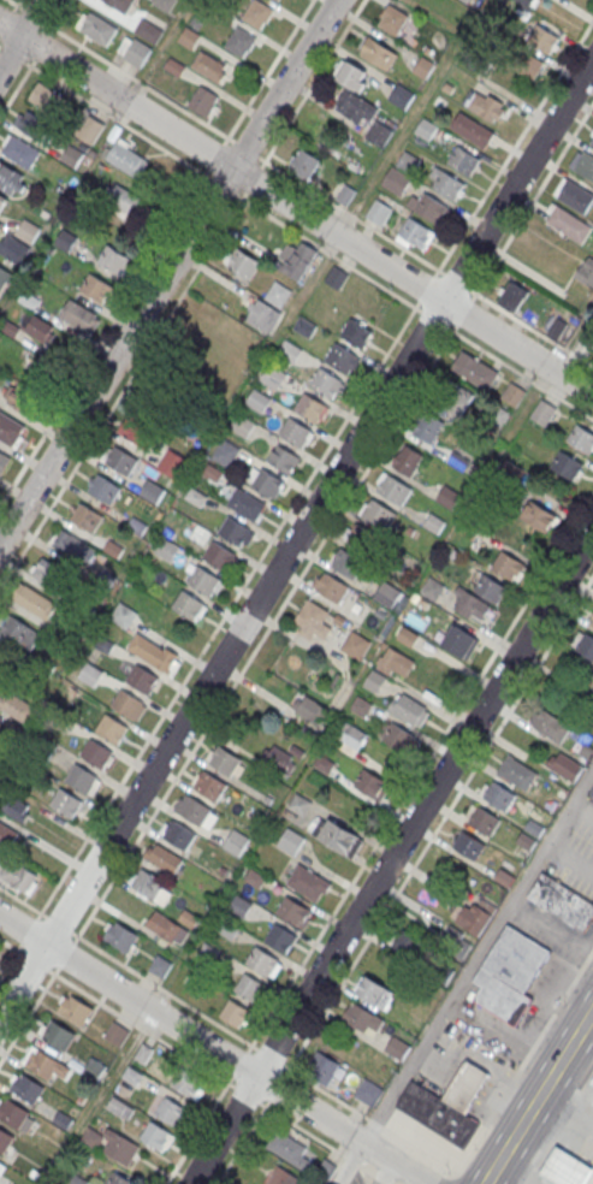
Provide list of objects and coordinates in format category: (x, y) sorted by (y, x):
building: (278, 0)
building: (526, 2)
building: (165, 4)
road: (14, 5)
building: (120, 5)
building: (259, 14)
road: (64, 17)
road: (5, 20)
building: (393, 20)
building: (197, 22)
building: (96, 29)
building: (149, 32)
road: (22, 35)
building: (189, 39)
building: (544, 40)
building: (241, 43)
road: (43, 48)
building: (378, 52)
road: (10, 53)
building: (137, 54)
building: (472, 59)
building: (209, 65)
building: (528, 65)
building: (174, 69)
building: (425, 69)
road: (267, 70)
road: (310, 82)
road: (17, 87)
building: (354, 94)
building: (402, 96)
building: (46, 99)
building: (203, 100)
building: (486, 107)
road: (115, 119)
building: (32, 126)
building: (426, 130)
building: (473, 131)
building: (90, 134)
road: (227, 136)
building: (378, 137)
building: (592, 142)
building: (592, 144)
road: (514, 147)
building: (22, 153)
road: (215, 154)
building: (72, 156)
building: (128, 160)
building: (463, 161)
building: (408, 162)
building: (303, 164)
building: (585, 165)
road: (251, 179)
building: (12, 180)
building: (397, 182)
road: (224, 185)
building: (449, 187)
building: (575, 195)
building: (121, 201)
road: (532, 201)
building: (2, 203)
building: (431, 208)
road: (296, 209)
building: (379, 213)
building: (568, 223)
building: (28, 232)
building: (417, 235)
building: (65, 241)
building: (14, 250)
road: (327, 253)
building: (300, 260)
building: (117, 262)
building: (242, 264)
building: (586, 271)
road: (168, 272)
building: (336, 279)
road: (456, 280)
building: (2, 282)
road: (426, 286)
building: (97, 290)
building: (278, 295)
building: (512, 295)
building: (29, 300)
road: (463, 312)
building: (81, 316)
road: (432, 316)
building: (263, 318)
road: (529, 327)
building: (40, 328)
building: (306, 328)
building: (556, 328)
building: (356, 332)
road: (103, 336)
building: (290, 354)
building: (342, 357)
building: (475, 369)
road: (518, 371)
building: (48, 375)
building: (273, 378)
building: (327, 383)
road: (121, 390)
building: (512, 393)
building: (452, 396)
building: (259, 402)
building: (310, 408)
building: (542, 412)
building: (427, 426)
building: (243, 427)
building: (11, 430)
building: (136, 430)
building: (296, 432)
building: (581, 438)
building: (227, 452)
building: (283, 457)
building: (407, 460)
building: (458, 461)
building: (121, 462)
building: (4, 463)
building: (173, 463)
building: (567, 464)
building: (267, 481)
building: (395, 489)
building: (103, 490)
building: (152, 491)
building: (447, 496)
building: (247, 503)
building: (379, 513)
building: (539, 515)
building: (87, 519)
building: (433, 522)
building: (235, 531)
road: (295, 538)
building: (363, 538)
building: (73, 546)
building: (166, 549)
building: (219, 555)
building: (348, 562)
building: (508, 566)
building: (45, 572)
building: (203, 580)
building: (332, 587)
building: (432, 588)
building: (491, 591)
building: (387, 593)
building: (188, 604)
road: (226, 610)
building: (310, 615)
building: (592, 624)
road: (265, 633)
building: (22, 634)
building: (461, 641)
building: (355, 644)
building: (586, 647)
building: (158, 655)
building: (397, 661)
building: (143, 679)
building: (374, 680)
building: (592, 695)
building: (128, 704)
building: (361, 705)
building: (18, 709)
building: (312, 709)
building: (409, 709)
building: (548, 726)
building: (16, 727)
building: (112, 728)
building: (350, 733)
building: (398, 738)
building: (4, 752)
building: (96, 753)
building: (283, 758)
building: (224, 759)
building: (565, 766)
road: (420, 771)
building: (514, 771)
building: (81, 777)
building: (370, 782)
building: (209, 785)
building: (591, 794)
building: (499, 797)
building: (66, 803)
building: (298, 803)
building: (17, 807)
building: (195, 810)
road: (580, 816)
building: (484, 822)
road: (439, 823)
building: (179, 834)
building: (7, 835)
building: (342, 837)
building: (291, 840)
building: (237, 841)
building: (469, 846)
parking lot: (576, 853)
building: (164, 857)
road: (392, 858)
road: (568, 860)
building: (18, 876)
building: (504, 878)
building: (308, 882)
building: (149, 883)
road: (22, 901)
building: (562, 901)
building: (241, 904)
building: (293, 911)
building: (473, 916)
road: (58, 923)
building: (167, 927)
road: (28, 931)
building: (121, 936)
building: (280, 937)
building: (456, 942)
building: (407, 943)
road: (11, 945)
road: (65, 953)
road: (478, 953)
road: (10, 959)
road: (34, 960)
building: (262, 960)
building: (160, 965)
building: (509, 973)
building: (249, 988)
road: (164, 989)
building: (372, 993)
building: (75, 1008)
road: (29, 1013)
building: (235, 1014)
building: (362, 1020)
road: (141, 1026)
road: (588, 1026)
building: (117, 1032)
building: (59, 1034)
road: (217, 1047)
building: (397, 1048)
road: (271, 1054)
road: (524, 1059)
building: (42, 1062)
road: (242, 1062)
building: (93, 1068)
building: (322, 1070)
building: (131, 1077)
building: (188, 1084)
road: (319, 1084)
road: (278, 1085)
building: (467, 1085)
building: (28, 1088)
road: (248, 1093)
building: (368, 1094)
building: (589, 1094)
road: (538, 1095)
building: (120, 1107)
building: (171, 1111)
building: (13, 1112)
road: (358, 1112)
building: (438, 1112)
road: (366, 1117)
road: (374, 1121)
road: (297, 1124)
road: (198, 1129)
road: (558, 1129)
building: (156, 1135)
building: (5, 1139)
road: (244, 1141)
building: (115, 1144)
building: (290, 1150)
road: (420, 1150)
road: (346, 1156)
road: (349, 1161)
building: (2, 1166)
road: (367, 1170)
building: (565, 1170)
road: (386, 1172)
parking lot: (351, 1176)
building: (286, 1177)
road: (467, 1177)
road: (369, 1178)
road: (381, 1178)
building: (119, 1179)
road: (420, 1182)
road: (390, 1183)

